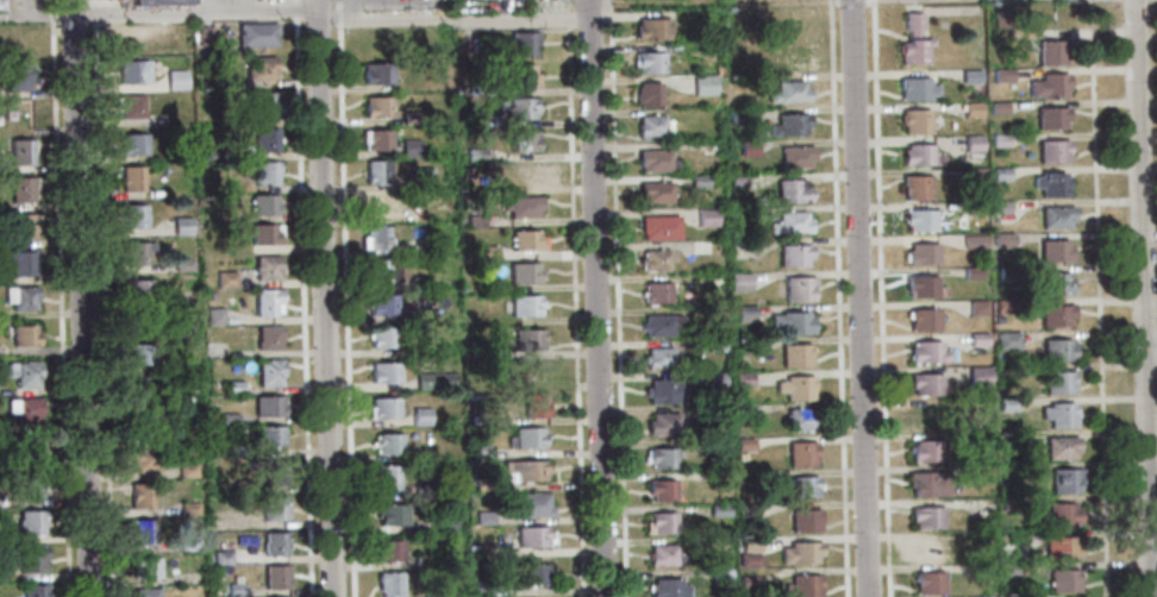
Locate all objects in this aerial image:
building: (542, 0)
parking lot: (232, 1)
road: (664, 1)
building: (156, 2)
building: (0, 5)
parking lot: (23, 5)
road: (212, 6)
road: (345, 11)
road: (194, 13)
road: (38, 15)
building: (1000, 17)
road: (452, 20)
building: (651, 29)
building: (254, 33)
building: (132, 37)
building: (202, 37)
building: (912, 39)
building: (521, 43)
building: (793, 43)
building: (14, 46)
building: (1049, 51)
building: (649, 61)
building: (259, 68)
building: (131, 73)
building: (375, 74)
building: (969, 75)
building: (1003, 75)
building: (14, 76)
building: (521, 76)
building: (752, 78)
building: (175, 80)
building: (703, 83)
building: (1046, 84)
building: (914, 88)
building: (787, 90)
building: (646, 93)
building: (130, 106)
building: (263, 106)
building: (376, 107)
building: (996, 107)
building: (515, 108)
building: (970, 108)
building: (20, 114)
building: (736, 114)
building: (1049, 117)
building: (411, 119)
building: (226, 120)
building: (913, 120)
building: (788, 122)
building: (651, 125)
building: (997, 139)
building: (376, 140)
building: (264, 142)
building: (523, 142)
building: (971, 142)
building: (131, 144)
building: (709, 146)
building: (746, 146)
building: (409, 150)
building: (1051, 150)
building: (181, 151)
building: (19, 152)
building: (915, 153)
building: (795, 155)
building: (208, 156)
building: (656, 159)
building: (185, 169)
building: (374, 172)
building: (263, 174)
building: (525, 174)
building: (999, 174)
building: (972, 175)
building: (130, 178)
building: (420, 178)
building: (737, 178)
building: (698, 180)
building: (1050, 183)
building: (914, 186)
building: (20, 189)
building: (790, 189)
building: (653, 190)
building: (262, 205)
building: (380, 206)
building: (999, 206)
building: (520, 207)
building: (974, 207)
building: (756, 212)
building: (1055, 215)
building: (131, 216)
building: (417, 216)
building: (706, 216)
building: (918, 219)
building: (474, 220)
building: (789, 221)
building: (180, 224)
building: (658, 225)
building: (19, 226)
building: (263, 234)
building: (375, 239)
building: (1003, 239)
building: (525, 240)
building: (972, 240)
building: (700, 246)
building: (417, 249)
building: (1052, 250)
building: (486, 252)
building: (135, 253)
building: (920, 253)
building: (793, 254)
building: (653, 258)
building: (17, 263)
building: (181, 264)
building: (264, 266)
building: (381, 271)
building: (1006, 271)
building: (523, 272)
building: (971, 272)
building: (713, 278)
building: (224, 279)
building: (739, 281)
building: (418, 283)
building: (1055, 283)
building: (923, 285)
building: (798, 288)
building: (137, 290)
building: (655, 291)
building: (209, 295)
building: (19, 296)
road: (58, 297)
road: (302, 297)
road: (325, 297)
road: (344, 297)
road: (573, 297)
road: (80, 298)
road: (100, 298)
road: (595, 298)
road: (615, 298)
road: (839, 298)
road: (858, 298)
road: (882, 298)
road: (1100, 298)
road: (1143, 298)
building: (265, 302)
building: (381, 304)
building: (524, 306)
building: (976, 307)
building: (1000, 309)
building: (714, 312)
building: (1053, 312)
building: (427, 313)
building: (744, 313)
building: (212, 316)
building: (923, 319)
building: (790, 321)
building: (137, 322)
building: (659, 323)
building: (185, 329)
building: (23, 335)
building: (381, 337)
building: (267, 338)
building: (976, 338)
building: (526, 340)
building: (1006, 340)
building: (715, 344)
building: (756, 344)
building: (1056, 348)
building: (477, 351)
building: (926, 351)
building: (795, 353)
building: (138, 354)
building: (657, 357)
building: (532, 371)
building: (23, 372)
building: (268, 372)
building: (1005, 372)
building: (383, 373)
building: (715, 376)
building: (976, 376)
building: (742, 378)
building: (433, 381)
building: (1056, 382)
building: (924, 383)
building: (795, 387)
building: (232, 388)
building: (137, 390)
building: (663, 390)
building: (1006, 403)
building: (533, 406)
building: (976, 406)
building: (267, 407)
building: (383, 408)
building: (23, 409)
building: (744, 410)
building: (717, 411)
building: (1057, 414)
building: (419, 416)
building: (801, 416)
building: (921, 416)
building: (227, 419)
building: (474, 420)
building: (662, 422)
building: (138, 426)
building: (268, 436)
building: (525, 438)
building: (1007, 438)
building: (980, 440)
building: (387, 444)
building: (744, 444)
building: (715, 445)
building: (1058, 446)
building: (27, 448)
building: (924, 450)
building: (233, 451)
building: (480, 451)
building: (801, 451)
building: (661, 455)
building: (140, 460)
building: (526, 470)
building: (186, 471)
building: (981, 471)
building: (271, 473)
building: (718, 476)
building: (762, 476)
building: (384, 477)
building: (1064, 479)
building: (926, 483)
building: (481, 484)
building: (803, 485)
building: (29, 486)
building: (663, 489)
building: (421, 490)
building: (139, 497)
building: (530, 503)
building: (1008, 503)
building: (189, 507)
building: (271, 509)
building: (719, 509)
building: (748, 509)
building: (1058, 513)
building: (389, 515)
building: (925, 515)
building: (482, 516)
building: (803, 517)
building: (445, 520)
building: (659, 521)
building: (29, 522)
building: (140, 532)
building: (1015, 535)
building: (532, 536)
building: (749, 542)
building: (187, 543)
building: (271, 543)
building: (1058, 547)
road: (1153, 548)
building: (387, 549)
building: (930, 549)
building: (484, 551)
building: (800, 551)
building: (663, 554)
building: (31, 558)
building: (220, 558)
building: (748, 558)
building: (423, 560)
road: (1153, 564)
building: (145, 568)
building: (982, 570)
building: (1008, 570)
building: (531, 574)
building: (721, 576)
building: (274, 577)
building: (1062, 580)
building: (746, 582)
building: (927, 582)
building: (388, 584)
building: (802, 585)
building: (667, 587)
building: (481, 589)
building: (234, 590)
building: (33, 591)
building: (144, 592)
building: (432, 593)
building: (976, 596)

